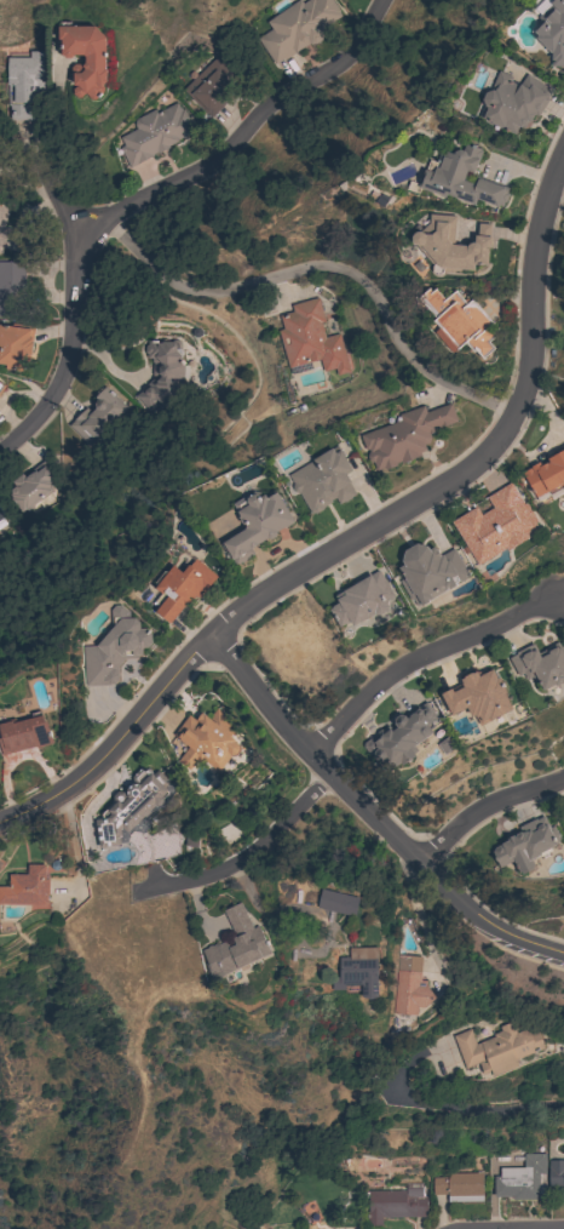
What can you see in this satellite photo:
building: (297, 27)
building: (552, 30)
building: (84, 57)
building: (23, 84)
building: (212, 86)
building: (512, 102)
building: (154, 132)
building: (459, 178)
road: (56, 196)
road: (156, 198)
building: (11, 234)
building: (450, 245)
road: (326, 271)
building: (12, 288)
building: (460, 320)
building: (310, 338)
building: (16, 345)
building: (161, 372)
building: (1, 387)
building: (97, 417)
building: (404, 435)
building: (546, 473)
building: (323, 480)
building: (30, 486)
building: (0, 516)
building: (0, 522)
building: (255, 524)
building: (495, 525)
road: (356, 537)
building: (428, 572)
building: (179, 588)
building: (361, 599)
building: (114, 648)
road: (421, 658)
building: (541, 664)
building: (477, 697)
building: (24, 734)
building: (402, 737)
building: (206, 739)
building: (130, 806)
road: (485, 811)
road: (375, 816)
building: (563, 817)
building: (525, 844)
road: (252, 854)
building: (25, 887)
building: (336, 903)
road: (311, 916)
building: (235, 945)
building: (357, 971)
building: (409, 987)
building: (497, 1048)
road: (472, 1104)
building: (556, 1172)
building: (522, 1178)
building: (459, 1187)
building: (395, 1204)
road: (552, 1228)

